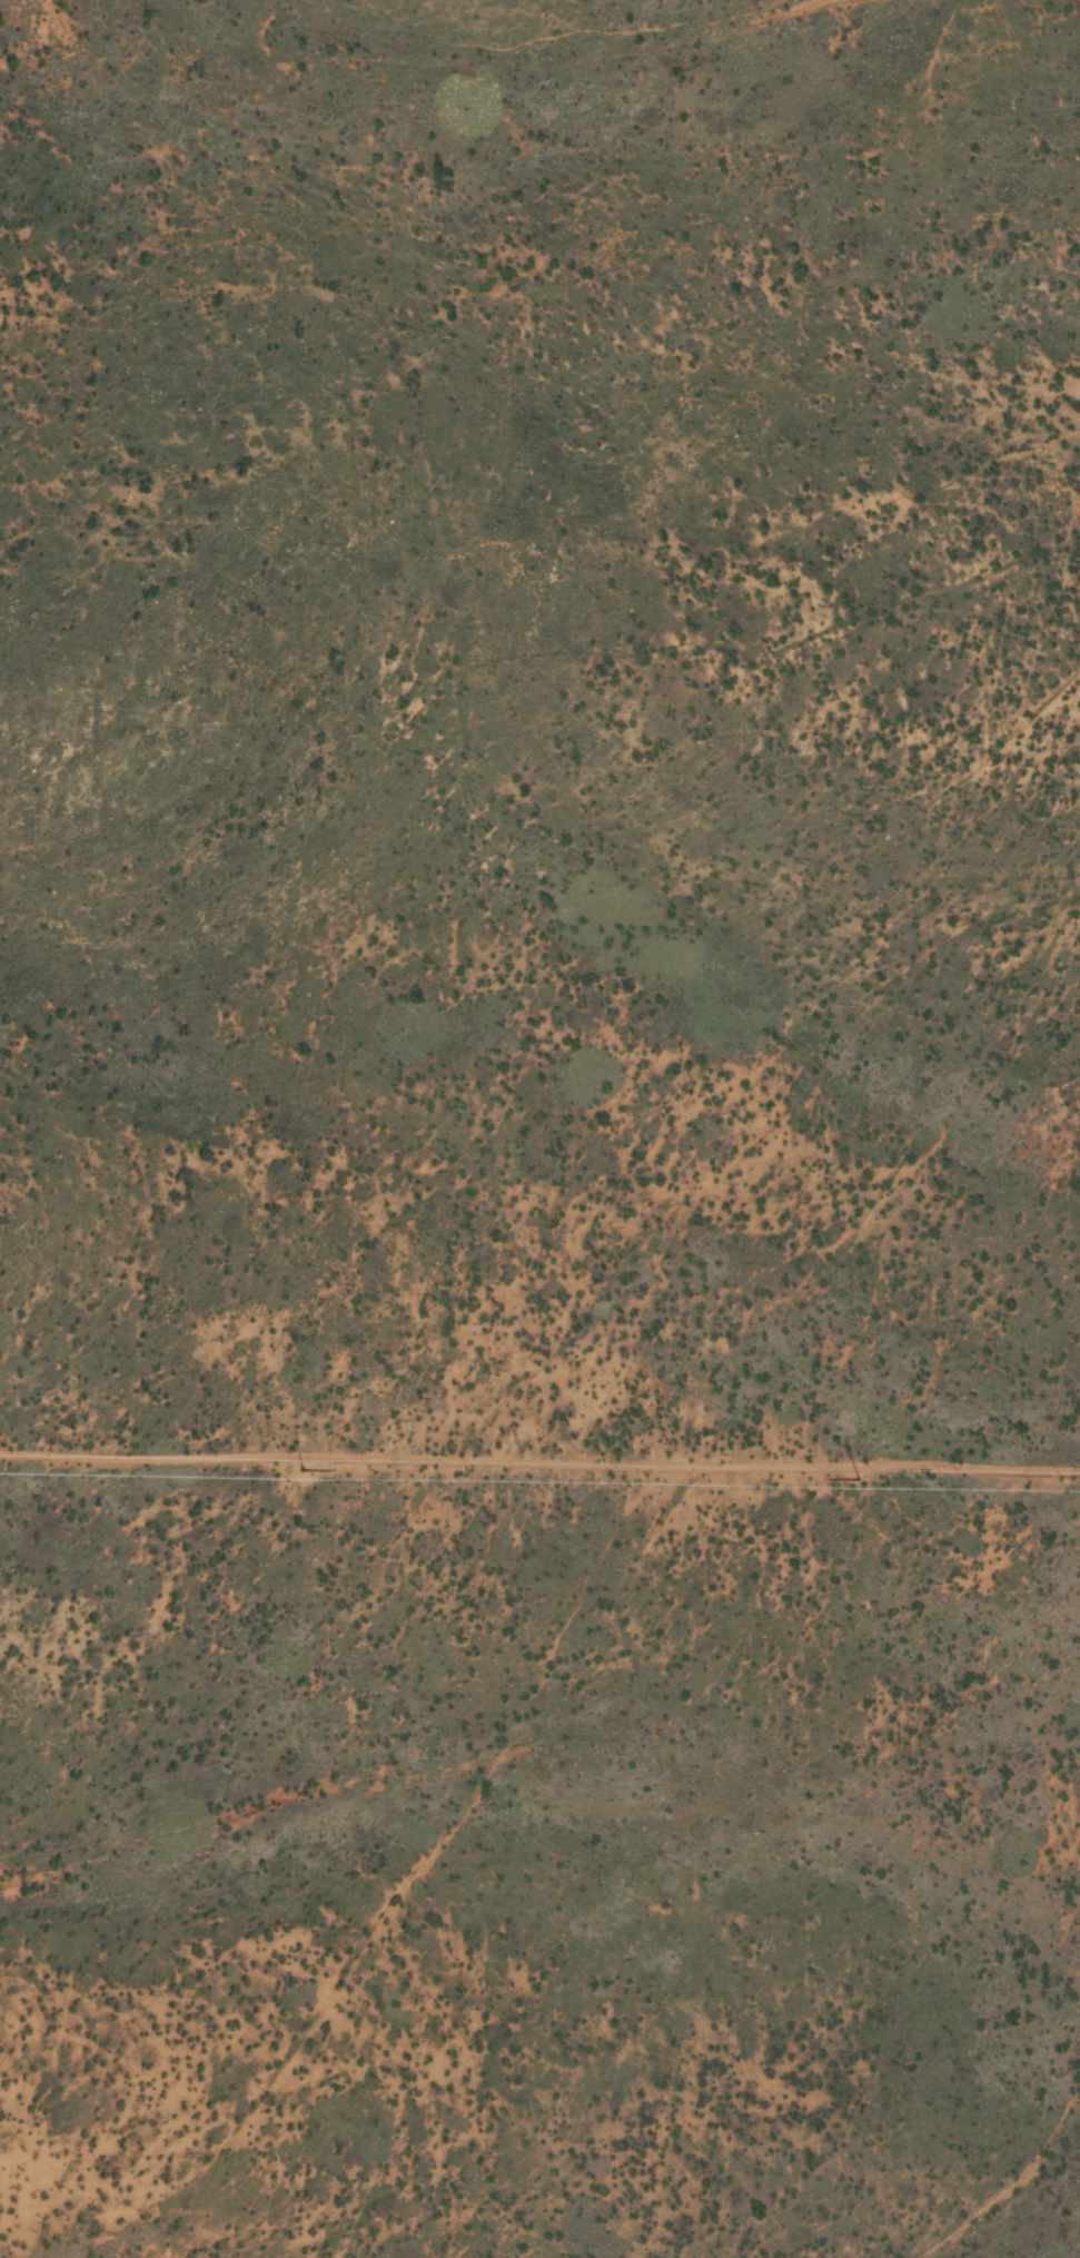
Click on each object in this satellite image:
power tower: (304, 1469)
power tower: (860, 1478)

